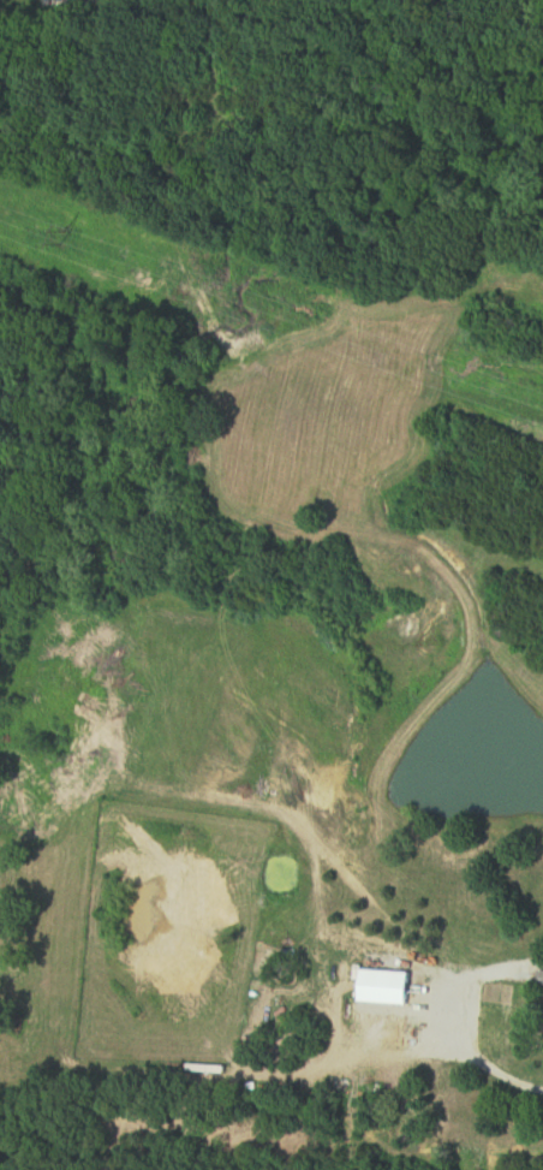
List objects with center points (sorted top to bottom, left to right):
road: (489, 967)
building: (388, 987)
road: (476, 1049)

